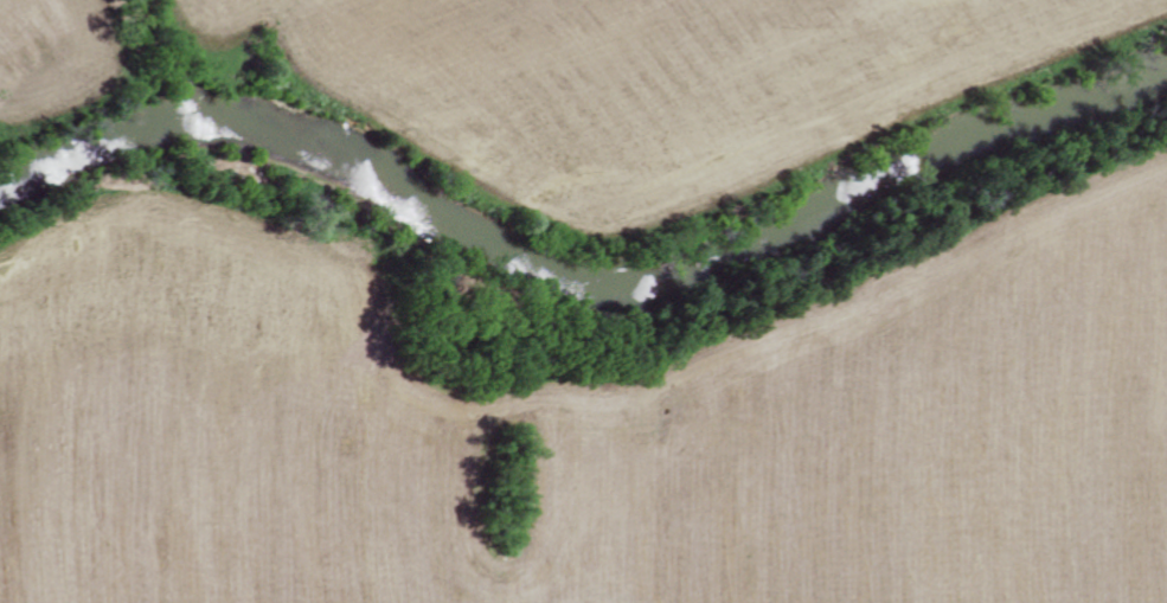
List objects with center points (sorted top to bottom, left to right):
road: (1104, 520)

